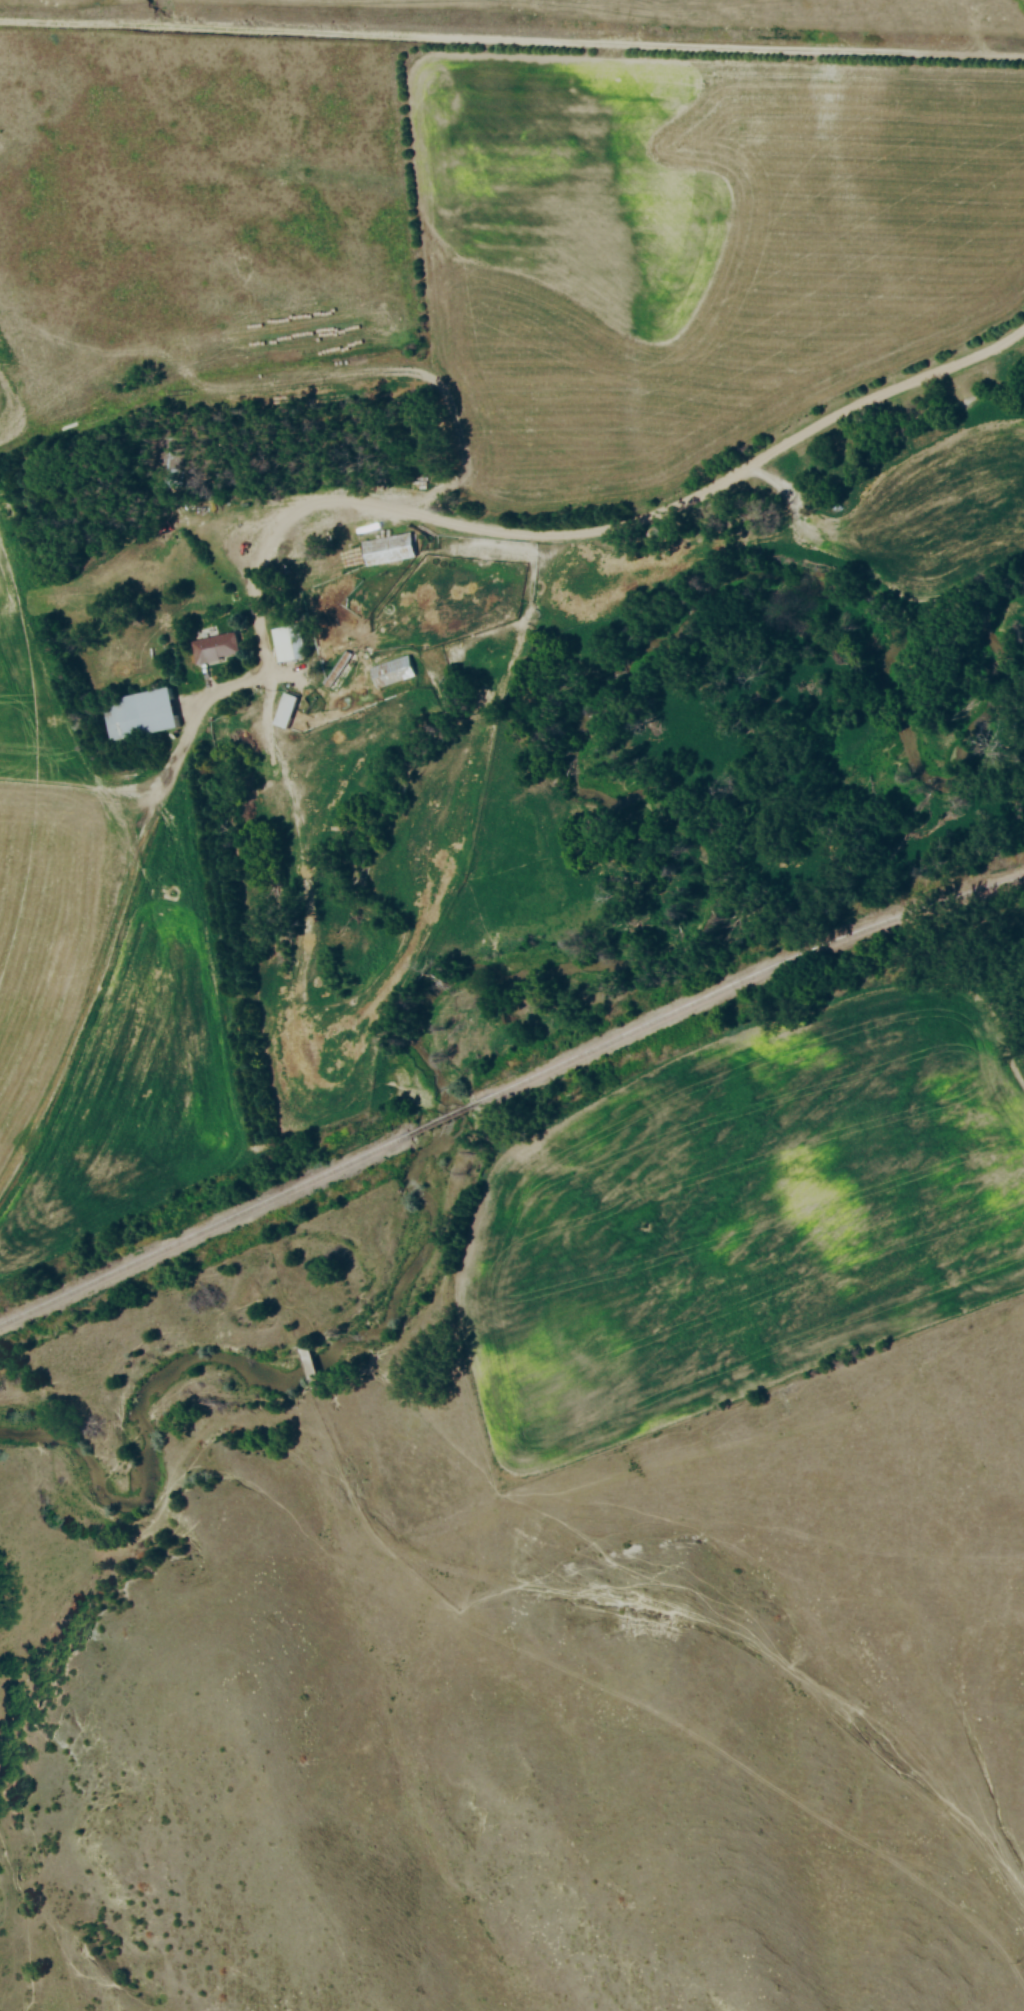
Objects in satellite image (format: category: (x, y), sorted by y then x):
road: (608, 527)
building: (386, 553)
building: (290, 644)
building: (216, 648)
building: (395, 672)
building: (287, 711)
building: (142, 716)
railway: (740, 980)
railway: (439, 1120)
railway: (206, 1229)

